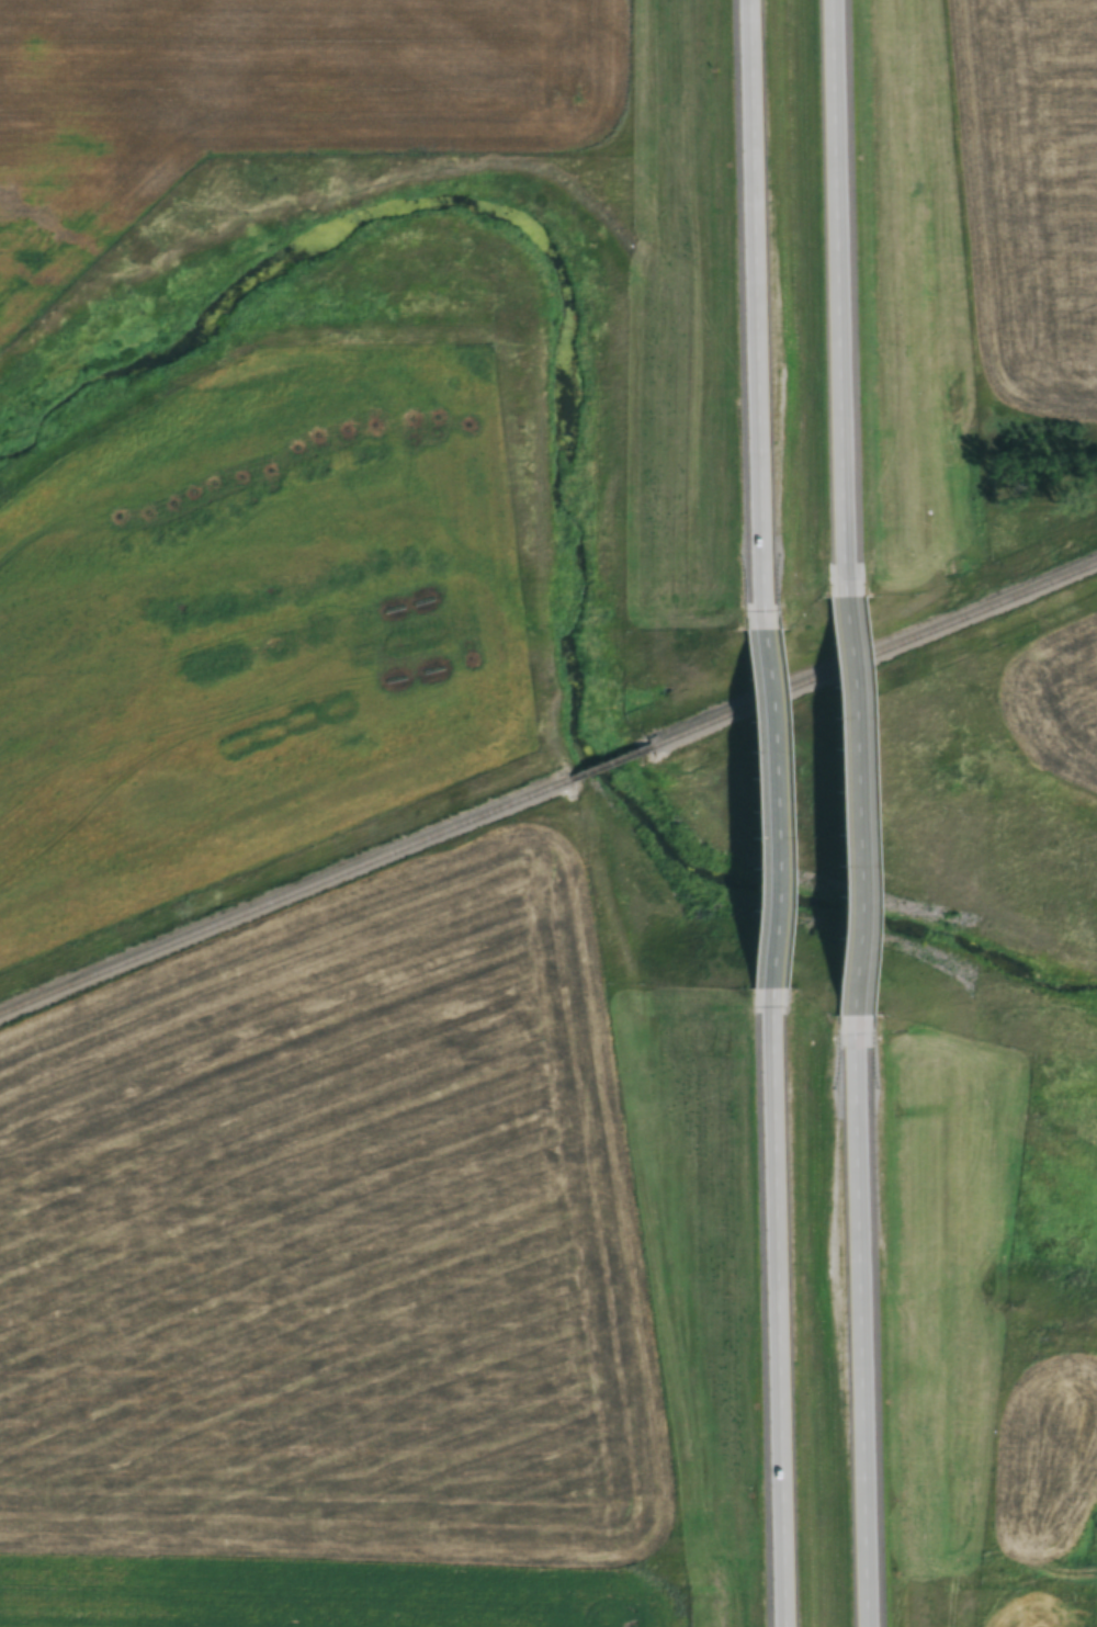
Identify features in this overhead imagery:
road: (845, 271)
road: (750, 281)
railway: (875, 660)
railway: (614, 767)
road: (855, 788)
road: (761, 798)
railway: (286, 904)
road: (776, 1330)
road: (867, 1330)

